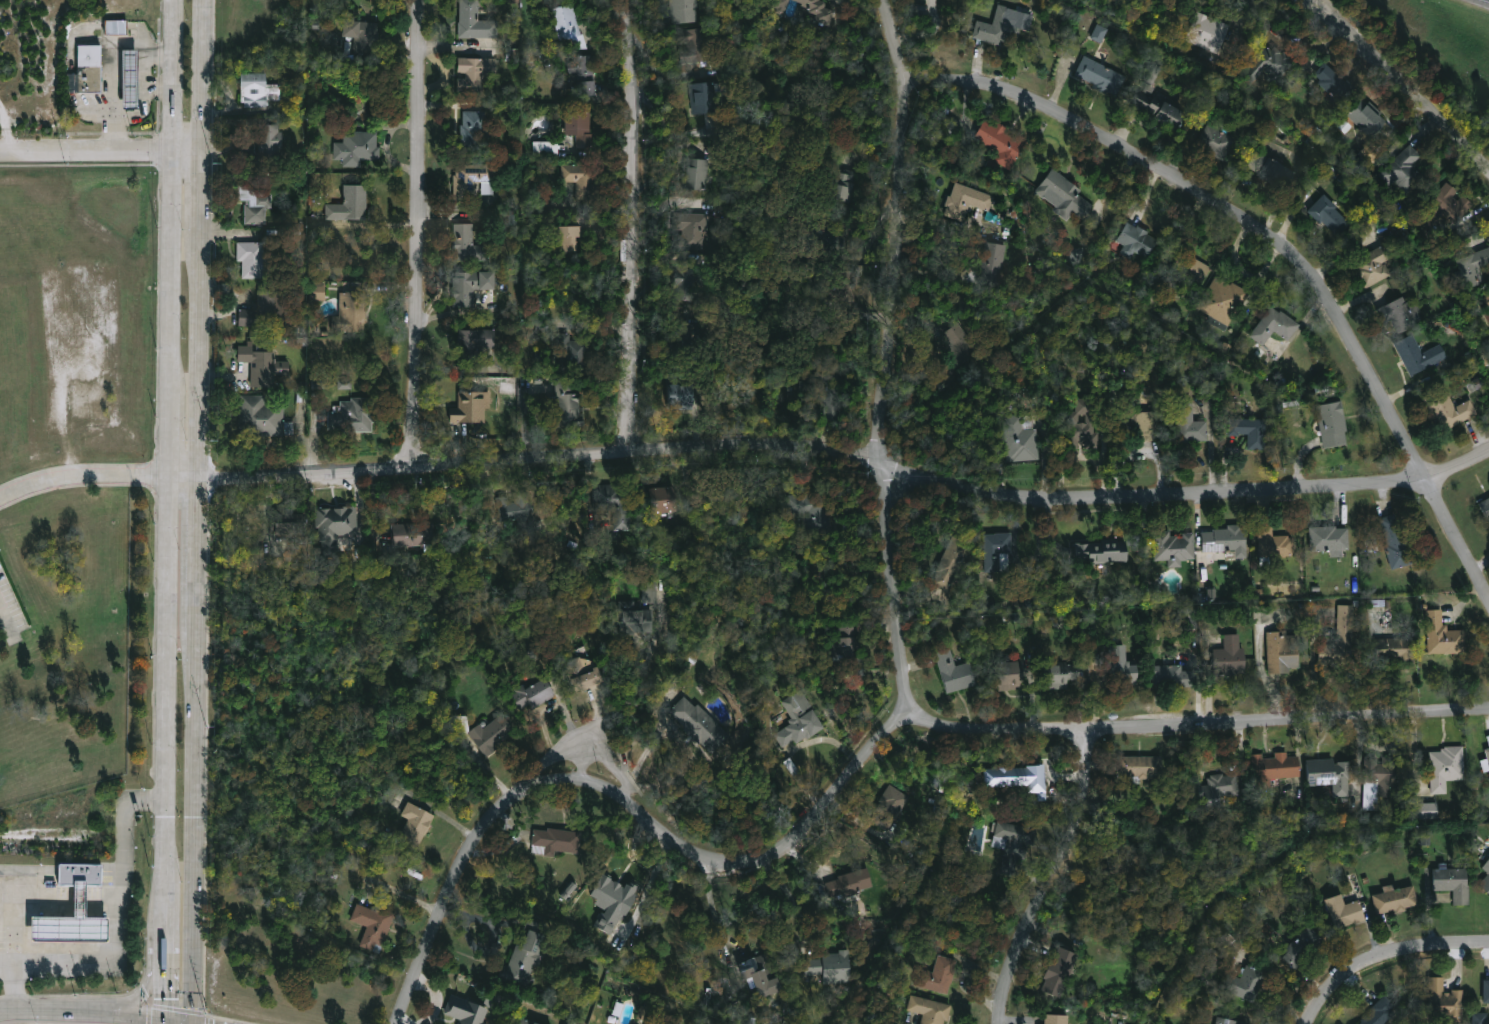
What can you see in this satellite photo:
building: (782, 6)
building: (688, 10)
building: (819, 10)
building: (475, 21)
building: (995, 26)
building: (116, 27)
building: (569, 28)
building: (1209, 32)
building: (1099, 33)
building: (362, 35)
road: (175, 44)
building: (698, 44)
road: (147, 52)
building: (536, 58)
road: (115, 64)
building: (1271, 64)
building: (1151, 73)
building: (583, 74)
building: (1101, 75)
road: (203, 77)
road: (1399, 77)
building: (130, 78)
building: (473, 78)
building: (89, 79)
building: (72, 83)
building: (1335, 83)
road: (161, 88)
building: (257, 89)
building: (708, 95)
building: (1160, 107)
road: (139, 112)
building: (1370, 118)
road: (173, 120)
building: (579, 126)
road: (115, 137)
building: (472, 138)
building: (1217, 139)
building: (1001, 141)
building: (265, 146)
building: (360, 147)
building: (546, 147)
road: (57, 152)
road: (167, 153)
road: (187, 153)
road: (138, 154)
building: (1404, 169)
building: (696, 173)
building: (1278, 175)
building: (581, 178)
building: (472, 179)
building: (843, 184)
building: (1067, 193)
building: (966, 200)
building: (259, 203)
building: (350, 204)
building: (1447, 206)
building: (1330, 215)
road: (640, 225)
building: (692, 229)
road: (420, 232)
building: (570, 240)
building: (820, 241)
building: (1137, 242)
building: (466, 243)
road: (1280, 244)
building: (254, 260)
building: (993, 262)
building: (1375, 265)
building: (1194, 267)
building: (1472, 267)
building: (692, 280)
building: (842, 286)
building: (469, 287)
building: (316, 291)
building: (1487, 298)
building: (1225, 301)
building: (266, 309)
road: (172, 311)
building: (350, 313)
building: (1400, 314)
building: (1276, 326)
building: (473, 336)
building: (688, 340)
building: (327, 343)
building: (958, 344)
building: (573, 350)
road: (892, 354)
building: (1419, 354)
building: (262, 362)
building: (686, 387)
building: (826, 397)
building: (567, 405)
building: (471, 407)
building: (1448, 409)
building: (354, 415)
building: (262, 417)
building: (1332, 420)
building: (1084, 422)
building: (1191, 423)
building: (1140, 424)
building: (1250, 430)
building: (1023, 434)
road: (834, 454)
road: (83, 472)
building: (663, 499)
building: (616, 503)
building: (1485, 507)
building: (516, 511)
building: (815, 514)
building: (289, 524)
building: (334, 527)
building: (413, 535)
building: (1330, 538)
building: (1227, 542)
building: (1274, 542)
building: (1396, 543)
building: (1174, 547)
building: (996, 550)
building: (1104, 550)
building: (951, 565)
road: (199, 589)
building: (650, 592)
building: (1379, 608)
road: (5, 616)
building: (632, 620)
building: (1445, 635)
building: (1341, 640)
building: (846, 642)
building: (1397, 649)
building: (1285, 653)
building: (1230, 657)
building: (1124, 668)
road: (169, 669)
building: (582, 670)
building: (1063, 670)
building: (954, 672)
building: (1007, 672)
building: (1174, 676)
road: (643, 678)
building: (533, 694)
building: (799, 723)
building: (699, 726)
road: (1200, 726)
building: (486, 733)
building: (1488, 737)
road: (585, 751)
building: (1488, 752)
building: (1486, 764)
building: (1141, 767)
road: (582, 768)
building: (1276, 768)
building: (1447, 768)
building: (1331, 775)
building: (1016, 777)
building: (1380, 781)
building: (1222, 791)
building: (892, 801)
road: (630, 808)
building: (1430, 811)
building: (415, 826)
building: (555, 841)
building: (1013, 845)
building: (1125, 858)
building: (1486, 868)
building: (79, 873)
road: (1060, 878)
building: (857, 882)
building: (958, 882)
building: (1454, 883)
building: (1486, 883)
road: (168, 895)
building: (1395, 899)
road: (40, 902)
building: (612, 902)
road: (795, 906)
road: (713, 908)
building: (1343, 912)
building: (68, 924)
gas station: (68, 924)
building: (374, 925)
road: (120, 934)
road: (167, 940)
building: (1305, 948)
road: (739, 949)
building: (527, 954)
road: (1389, 962)
building: (831, 966)
building: (1059, 972)
building: (761, 974)
building: (938, 975)
building: (1247, 982)
building: (1487, 990)
road: (166, 991)
road: (136, 996)
building: (1446, 1001)
building: (466, 1009)
building: (930, 1009)
building: (1381, 1012)
road: (68, 1018)
building: (1057, 1018)
building: (1479, 1018)
building: (528, 1020)
building: (1229, 1020)

